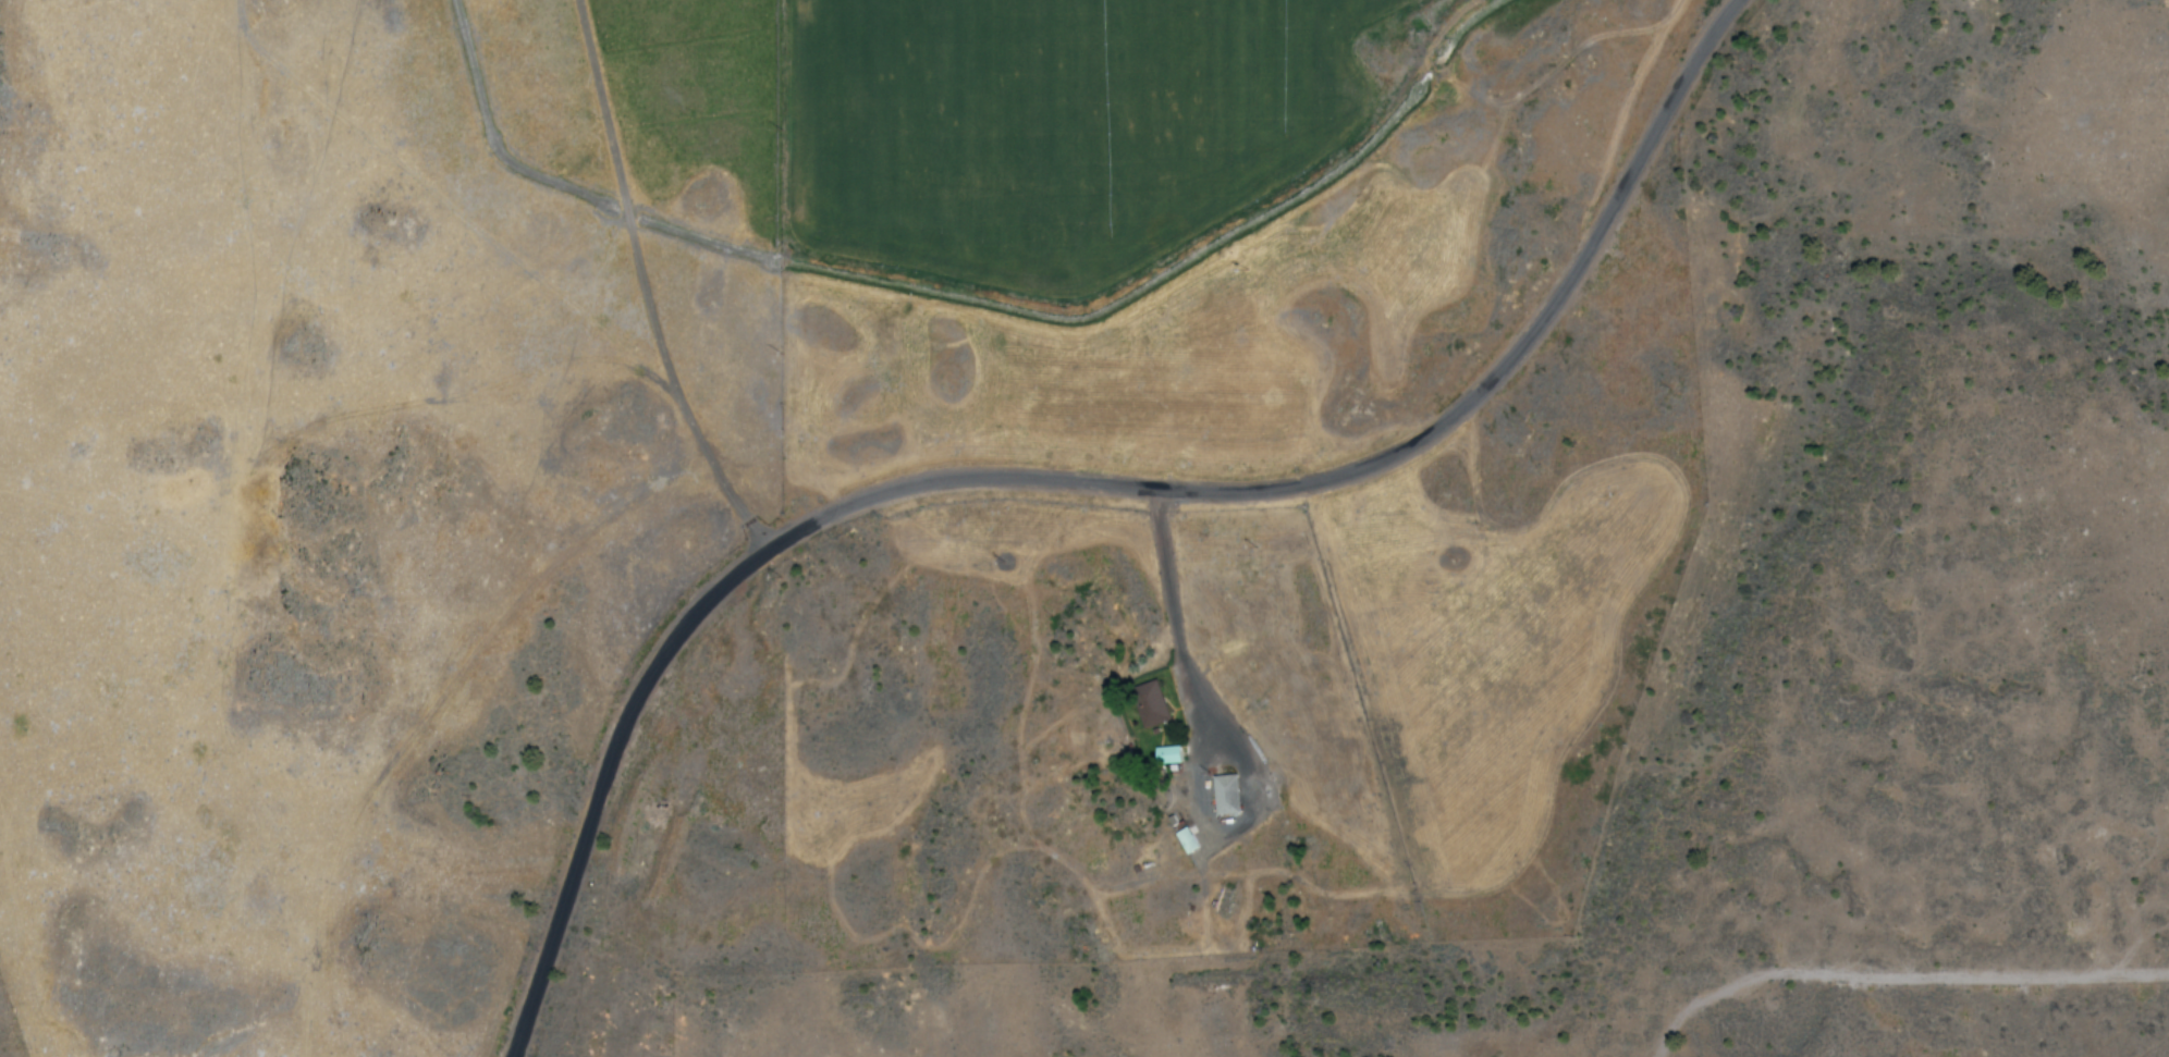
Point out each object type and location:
road: (648, 286)
road: (1081, 486)
building: (1149, 704)
building: (1167, 755)
building: (1226, 795)
building: (1186, 840)

